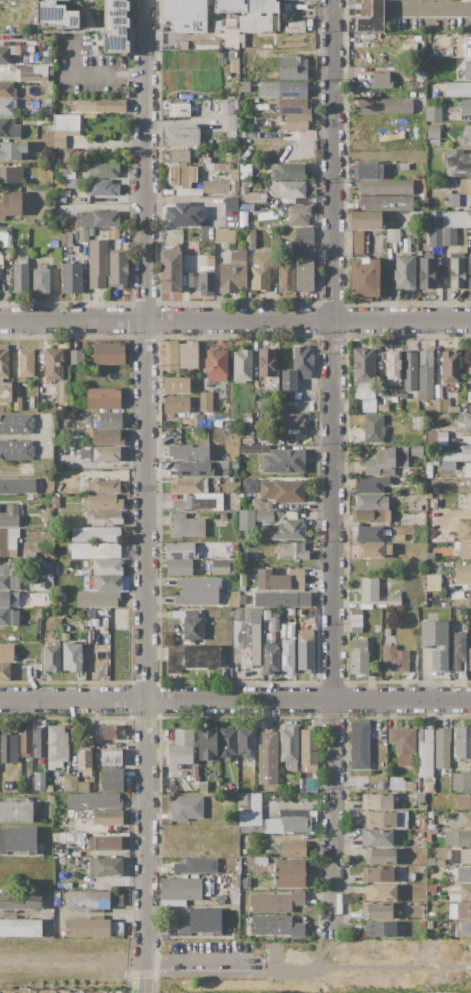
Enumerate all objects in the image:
building: (358, 6)
building: (361, 9)
building: (250, 13)
road: (429, 14)
building: (57, 15)
building: (185, 15)
building: (372, 18)
building: (219, 22)
building: (230, 22)
building: (116, 27)
building: (295, 27)
building: (163, 30)
building: (378, 35)
building: (231, 39)
building: (241, 40)
building: (206, 44)
building: (183, 45)
building: (464, 47)
building: (51, 48)
building: (15, 49)
building: (47, 53)
building: (4, 54)
building: (232, 54)
building: (26, 57)
building: (47, 59)
building: (13, 67)
building: (233, 67)
building: (292, 67)
building: (467, 69)
building: (31, 74)
road: (85, 75)
building: (271, 75)
building: (3, 78)
building: (381, 81)
building: (282, 89)
building: (458, 89)
building: (7, 90)
building: (121, 92)
building: (49, 96)
building: (186, 96)
building: (46, 100)
building: (256, 100)
building: (216, 101)
building: (88, 102)
building: (385, 105)
building: (6, 106)
building: (48, 106)
building: (109, 106)
building: (466, 107)
building: (179, 109)
building: (47, 111)
building: (295, 112)
building: (433, 113)
building: (227, 114)
building: (39, 118)
building: (66, 122)
building: (9, 128)
building: (50, 128)
building: (433, 131)
building: (182, 136)
building: (467, 136)
building: (62, 137)
building: (434, 140)
building: (460, 140)
building: (13, 150)
building: (48, 150)
building: (72, 155)
building: (179, 156)
building: (201, 159)
building: (457, 164)
building: (208, 166)
building: (81, 167)
building: (219, 167)
building: (61, 168)
building: (103, 170)
building: (367, 170)
building: (69, 171)
building: (288, 171)
building: (10, 174)
building: (61, 175)
building: (182, 176)
building: (242, 183)
building: (59, 184)
building: (443, 184)
building: (216, 186)
building: (234, 186)
building: (385, 186)
building: (470, 187)
building: (101, 188)
building: (287, 188)
building: (243, 190)
building: (234, 194)
building: (261, 197)
building: (248, 198)
building: (291, 200)
building: (452, 200)
building: (231, 203)
building: (388, 203)
building: (10, 204)
building: (280, 206)
building: (299, 214)
building: (182, 215)
building: (97, 219)
building: (446, 219)
building: (457, 219)
building: (467, 219)
building: (366, 220)
building: (428, 224)
building: (410, 231)
building: (424, 232)
building: (1, 234)
building: (393, 234)
building: (84, 235)
building: (224, 235)
building: (449, 236)
building: (251, 238)
building: (435, 238)
building: (67, 239)
building: (6, 240)
building: (357, 242)
building: (54, 243)
building: (419, 253)
building: (304, 258)
building: (209, 261)
building: (97, 263)
building: (118, 269)
building: (206, 269)
building: (170, 270)
building: (261, 271)
building: (405, 271)
building: (233, 272)
building: (426, 273)
building: (457, 273)
building: (469, 273)
building: (286, 277)
building: (20, 278)
building: (71, 278)
building: (41, 279)
building: (363, 279)
building: (202, 282)
road: (235, 321)
building: (108, 353)
building: (168, 355)
building: (188, 355)
building: (76, 357)
building: (4, 361)
building: (302, 361)
building: (26, 362)
building: (267, 362)
building: (53, 364)
building: (216, 364)
building: (394, 364)
building: (363, 365)
building: (242, 366)
building: (451, 366)
building: (410, 371)
building: (469, 373)
building: (426, 375)
building: (288, 380)
building: (268, 383)
building: (176, 385)
building: (398, 386)
building: (382, 392)
building: (5, 393)
building: (61, 393)
building: (404, 395)
building: (366, 397)
building: (103, 398)
building: (396, 399)
building: (206, 401)
building: (17, 403)
building: (176, 404)
building: (444, 406)
building: (3, 407)
building: (387, 407)
building: (469, 409)
building: (208, 417)
building: (199, 418)
building: (110, 419)
building: (289, 420)
building: (418, 420)
building: (442, 420)
building: (245, 422)
building: (464, 422)
building: (16, 423)
building: (372, 428)
building: (246, 434)
building: (107, 437)
building: (442, 438)
building: (251, 441)
building: (253, 448)
building: (465, 448)
building: (16, 450)
building: (417, 451)
building: (188, 452)
building: (102, 454)
building: (284, 460)
building: (381, 462)
road: (334, 463)
road: (146, 464)
building: (236, 464)
building: (198, 470)
building: (467, 470)
building: (231, 479)
building: (17, 485)
building: (369, 485)
building: (103, 486)
building: (188, 486)
building: (465, 489)
building: (82, 490)
building: (282, 490)
building: (30, 496)
building: (35, 496)
building: (429, 496)
building: (102, 501)
building: (190, 501)
building: (55, 502)
building: (371, 502)
building: (198, 503)
building: (434, 503)
building: (258, 505)
building: (268, 505)
building: (420, 506)
building: (410, 507)
building: (10, 515)
building: (264, 515)
building: (291, 515)
building: (371, 515)
building: (421, 515)
building: (47, 516)
building: (222, 516)
building: (105, 518)
building: (281, 523)
building: (186, 525)
building: (464, 529)
building: (289, 530)
building: (370, 533)
building: (450, 533)
building: (94, 534)
building: (450, 539)
building: (8, 542)
building: (456, 545)
building: (69, 547)
building: (373, 549)
building: (96, 550)
building: (181, 550)
building: (465, 550)
building: (291, 551)
building: (41, 556)
building: (243, 557)
building: (4, 566)
building: (16, 566)
building: (179, 566)
building: (107, 567)
building: (220, 567)
building: (463, 574)
building: (280, 579)
building: (5, 582)
building: (14, 582)
building: (108, 582)
building: (433, 582)
building: (411, 588)
building: (369, 589)
building: (198, 591)
building: (26, 596)
building: (62, 597)
building: (224, 597)
building: (7, 598)
building: (97, 598)
building: (282, 599)
building: (468, 600)
building: (393, 601)
building: (244, 603)
building: (410, 612)
building: (302, 613)
building: (63, 614)
building: (178, 614)
building: (356, 614)
building: (275, 615)
building: (5, 616)
building: (274, 624)
building: (192, 625)
building: (356, 626)
building: (66, 628)
building: (7, 630)
building: (387, 632)
building: (65, 636)
building: (290, 636)
building: (246, 637)
building: (435, 642)
building: (458, 649)
building: (222, 650)
building: (305, 650)
building: (6, 652)
building: (287, 655)
building: (52, 657)
building: (72, 657)
building: (201, 657)
building: (271, 658)
building: (175, 659)
building: (359, 659)
building: (395, 659)
building: (469, 660)
building: (4, 671)
road: (235, 700)
building: (112, 732)
building: (442, 735)
building: (403, 739)
building: (25, 741)
building: (228, 742)
building: (246, 742)
building: (40, 743)
building: (57, 743)
building: (207, 743)
building: (462, 743)
building: (359, 745)
building: (289, 746)
building: (309, 746)
building: (181, 747)
building: (8, 748)
building: (426, 752)
building: (267, 753)
building: (442, 755)
building: (112, 758)
building: (405, 759)
building: (84, 762)
building: (207, 763)
building: (182, 766)
building: (194, 771)
building: (443, 773)
building: (10, 776)
building: (24, 776)
building: (111, 780)
building: (461, 782)
building: (69, 783)
building: (397, 783)
building: (14, 785)
building: (311, 785)
building: (382, 785)
building: (410, 786)
building: (83, 787)
building: (429, 787)
building: (49, 788)
building: (203, 788)
building: (222, 788)
building: (232, 788)
building: (422, 788)
building: (93, 800)
building: (377, 801)
building: (463, 801)
building: (423, 807)
building: (185, 808)
building: (16, 812)
building: (250, 812)
building: (81, 813)
building: (105, 816)
building: (380, 819)
building: (465, 819)
building: (402, 820)
building: (289, 824)
building: (64, 825)
building: (77, 827)
building: (430, 834)
building: (59, 835)
building: (64, 836)
building: (69, 836)
building: (75, 836)
building: (450, 837)
building: (21, 838)
building: (274, 838)
building: (379, 838)
building: (464, 838)
building: (2, 841)
building: (105, 842)
building: (293, 847)
building: (277, 849)
building: (39, 850)
building: (268, 852)
building: (382, 856)
building: (455, 856)
building: (465, 856)
building: (440, 862)
building: (196, 866)
building: (105, 867)
building: (422, 869)
building: (290, 873)
building: (377, 874)
building: (464, 874)
building: (246, 882)
building: (65, 885)
building: (257, 887)
building: (431, 888)
building: (179, 890)
building: (244, 892)
building: (382, 893)
building: (465, 893)
building: (454, 897)
building: (115, 899)
building: (86, 900)
building: (237, 900)
building: (19, 901)
building: (276, 901)
building: (231, 907)
building: (377, 911)
building: (464, 911)
building: (431, 915)
building: (205, 919)
building: (180, 920)
building: (245, 924)
building: (422, 924)
building: (429, 924)
building: (276, 925)
building: (87, 927)
building: (21, 928)
building: (116, 928)
building: (465, 928)
building: (381, 929)
building: (455, 929)
road: (322, 952)
road: (146, 961)
road: (201, 963)
park: (315, 965)
road: (142, 974)
road: (311, 974)
road: (132, 983)

